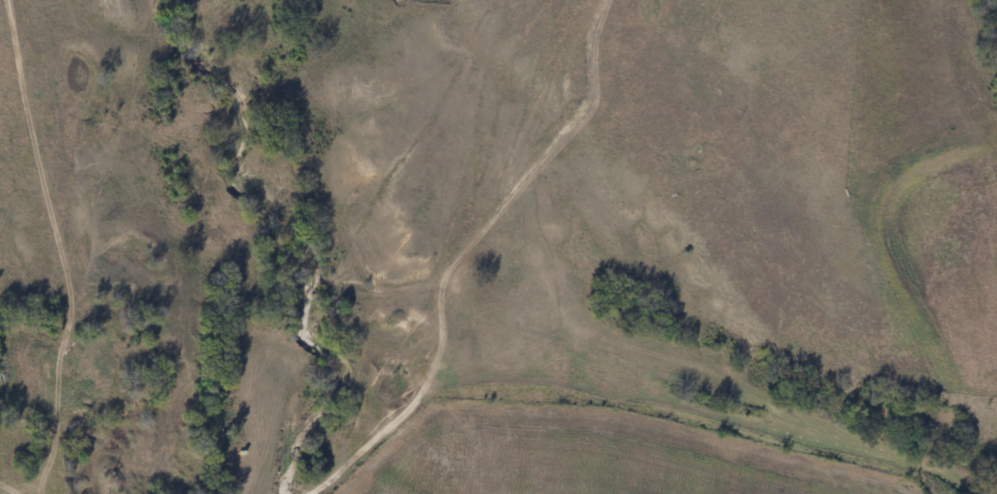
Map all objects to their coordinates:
road: (202, 118)
road: (92, 334)

